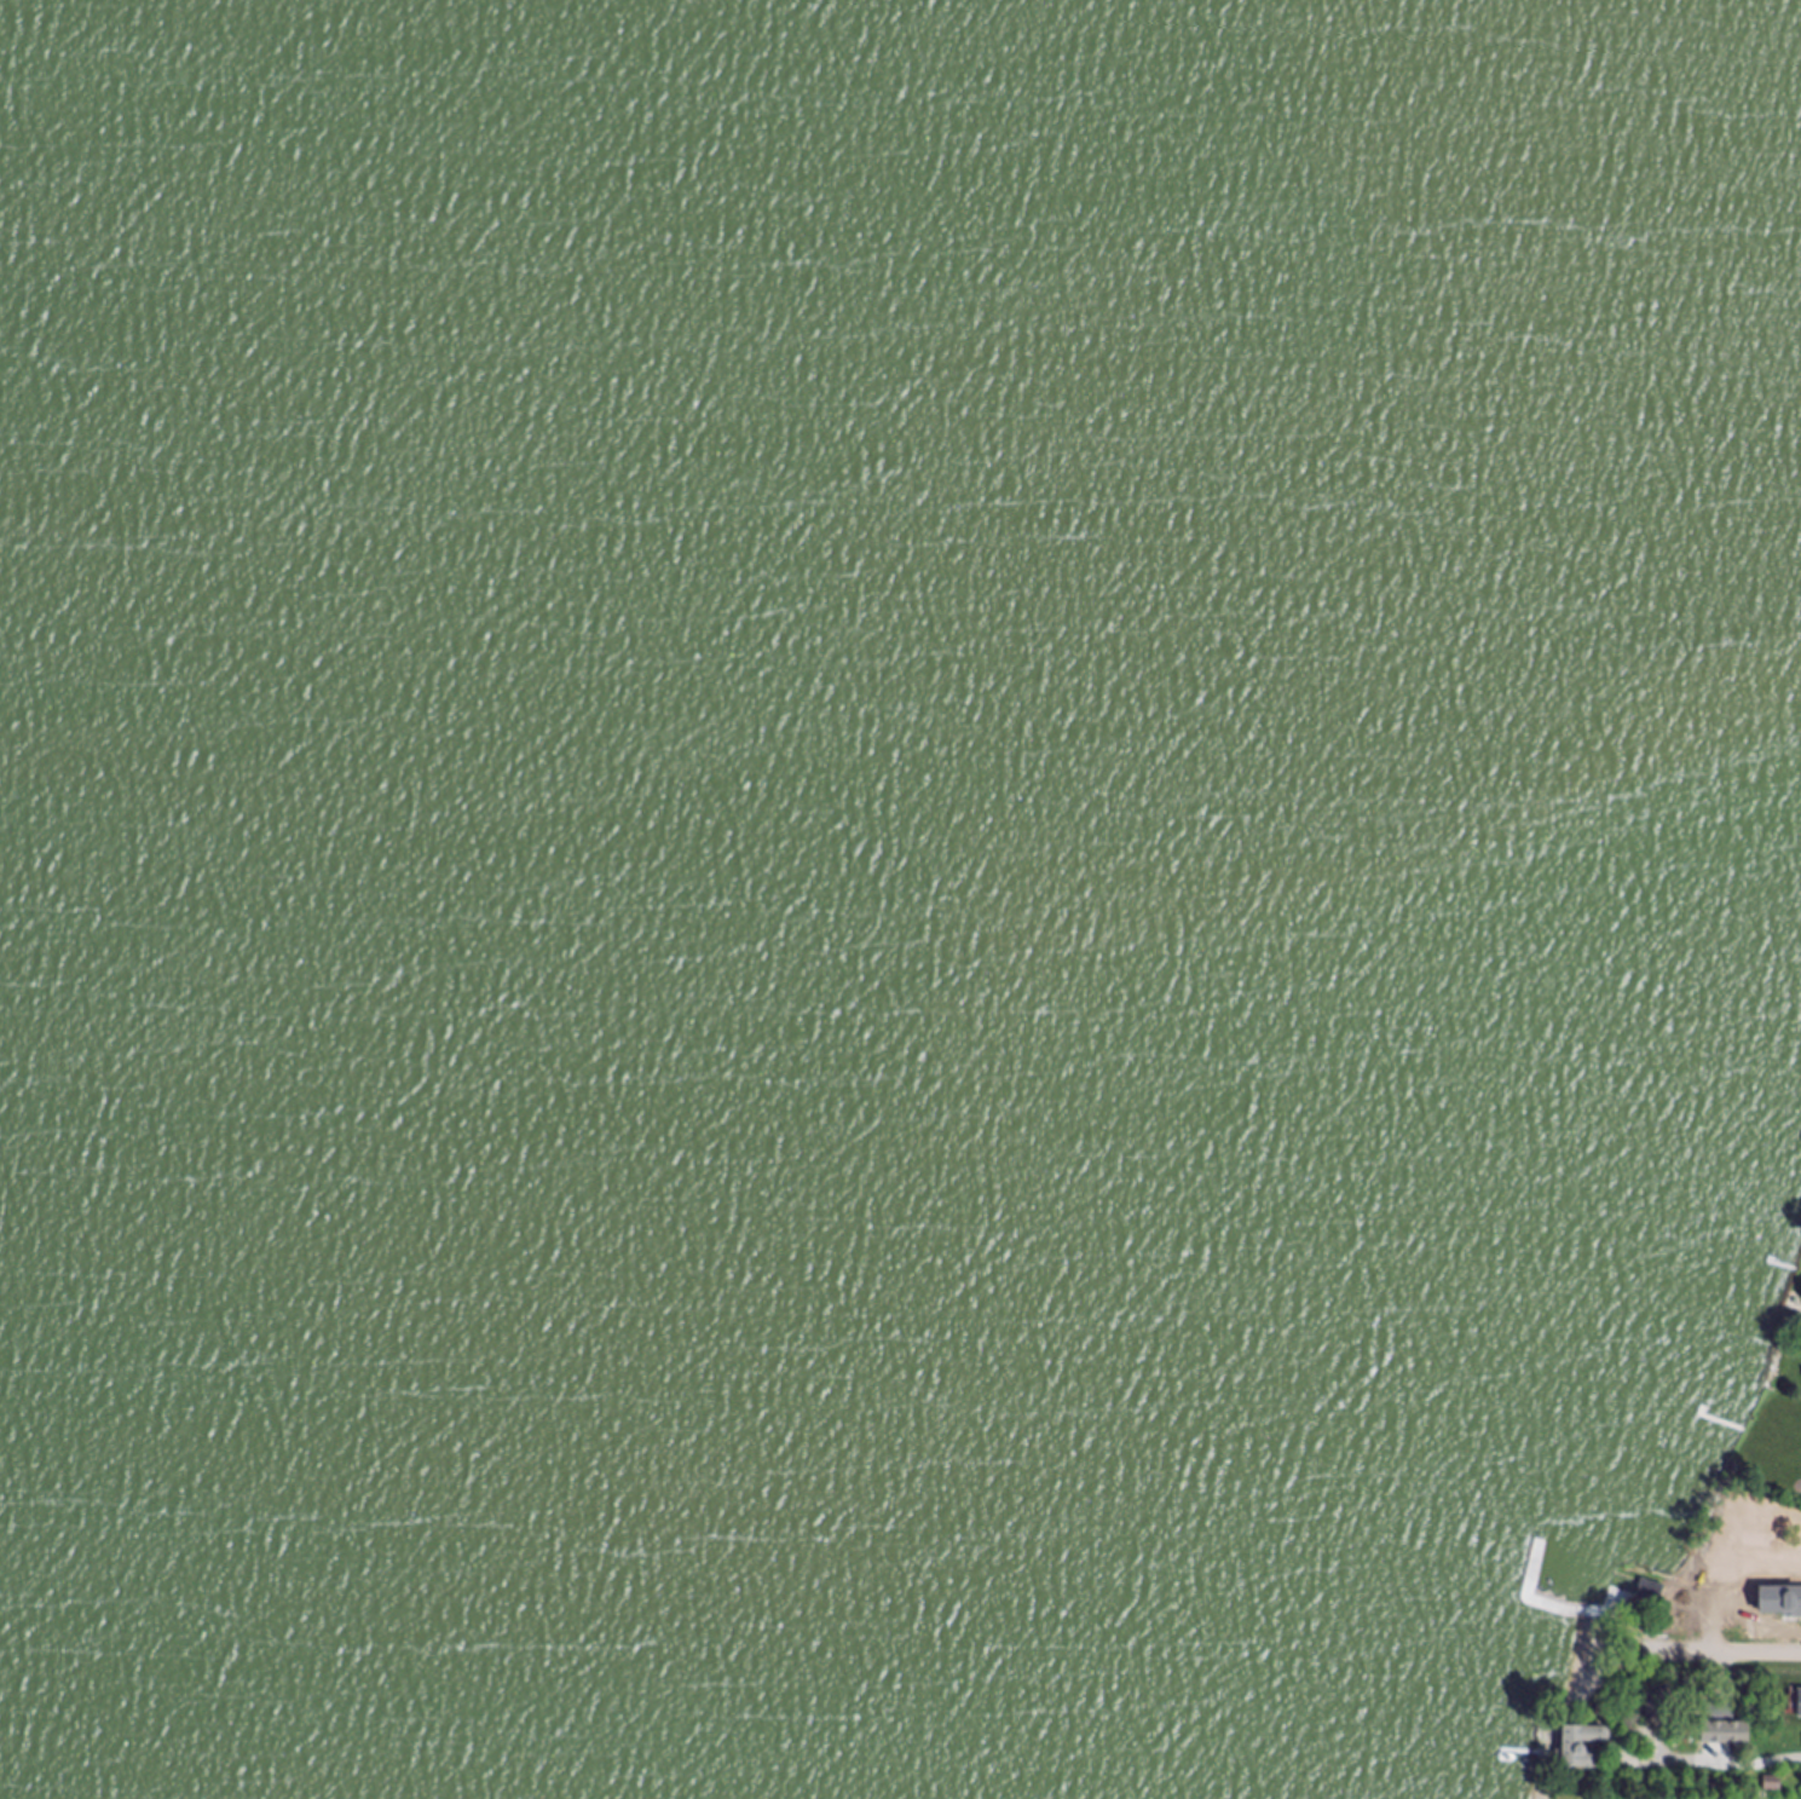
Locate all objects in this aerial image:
building: (1652, 1592)
building: (1718, 1598)
building: (1785, 1602)
road: (1726, 1651)
building: (1659, 1705)
building: (1800, 1705)
building: (1722, 1712)
building: (1722, 1735)
building: (1583, 1745)
road: (1732, 1764)
building: (1773, 1786)

